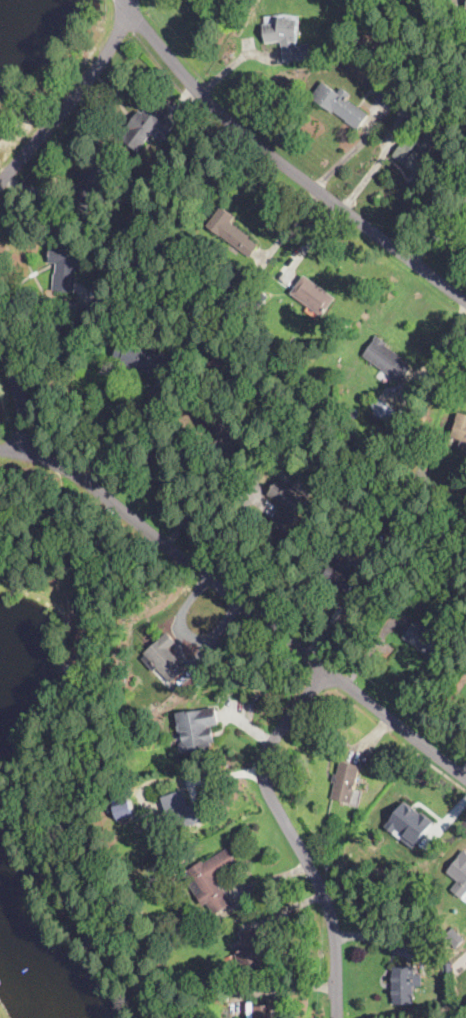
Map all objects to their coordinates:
building: (287, 39)
road: (71, 97)
building: (385, 98)
building: (340, 104)
building: (410, 112)
building: (147, 126)
road: (351, 150)
building: (210, 153)
building: (414, 156)
road: (283, 162)
road: (374, 166)
building: (103, 182)
building: (139, 226)
road: (439, 227)
building: (231, 231)
road: (311, 241)
building: (66, 262)
building: (248, 280)
building: (101, 294)
building: (313, 296)
building: (294, 341)
building: (387, 359)
building: (146, 360)
building: (212, 369)
road: (19, 403)
building: (382, 411)
building: (219, 417)
building: (461, 428)
road: (121, 434)
building: (267, 461)
building: (289, 501)
building: (375, 542)
building: (343, 574)
road: (239, 600)
building: (428, 643)
building: (164, 658)
building: (196, 728)
building: (389, 775)
building: (346, 782)
building: (123, 810)
building: (181, 810)
building: (409, 823)
road: (293, 834)
building: (459, 874)
building: (210, 881)
building: (454, 938)
building: (248, 949)
building: (404, 985)
building: (260, 1011)
building: (436, 1017)

